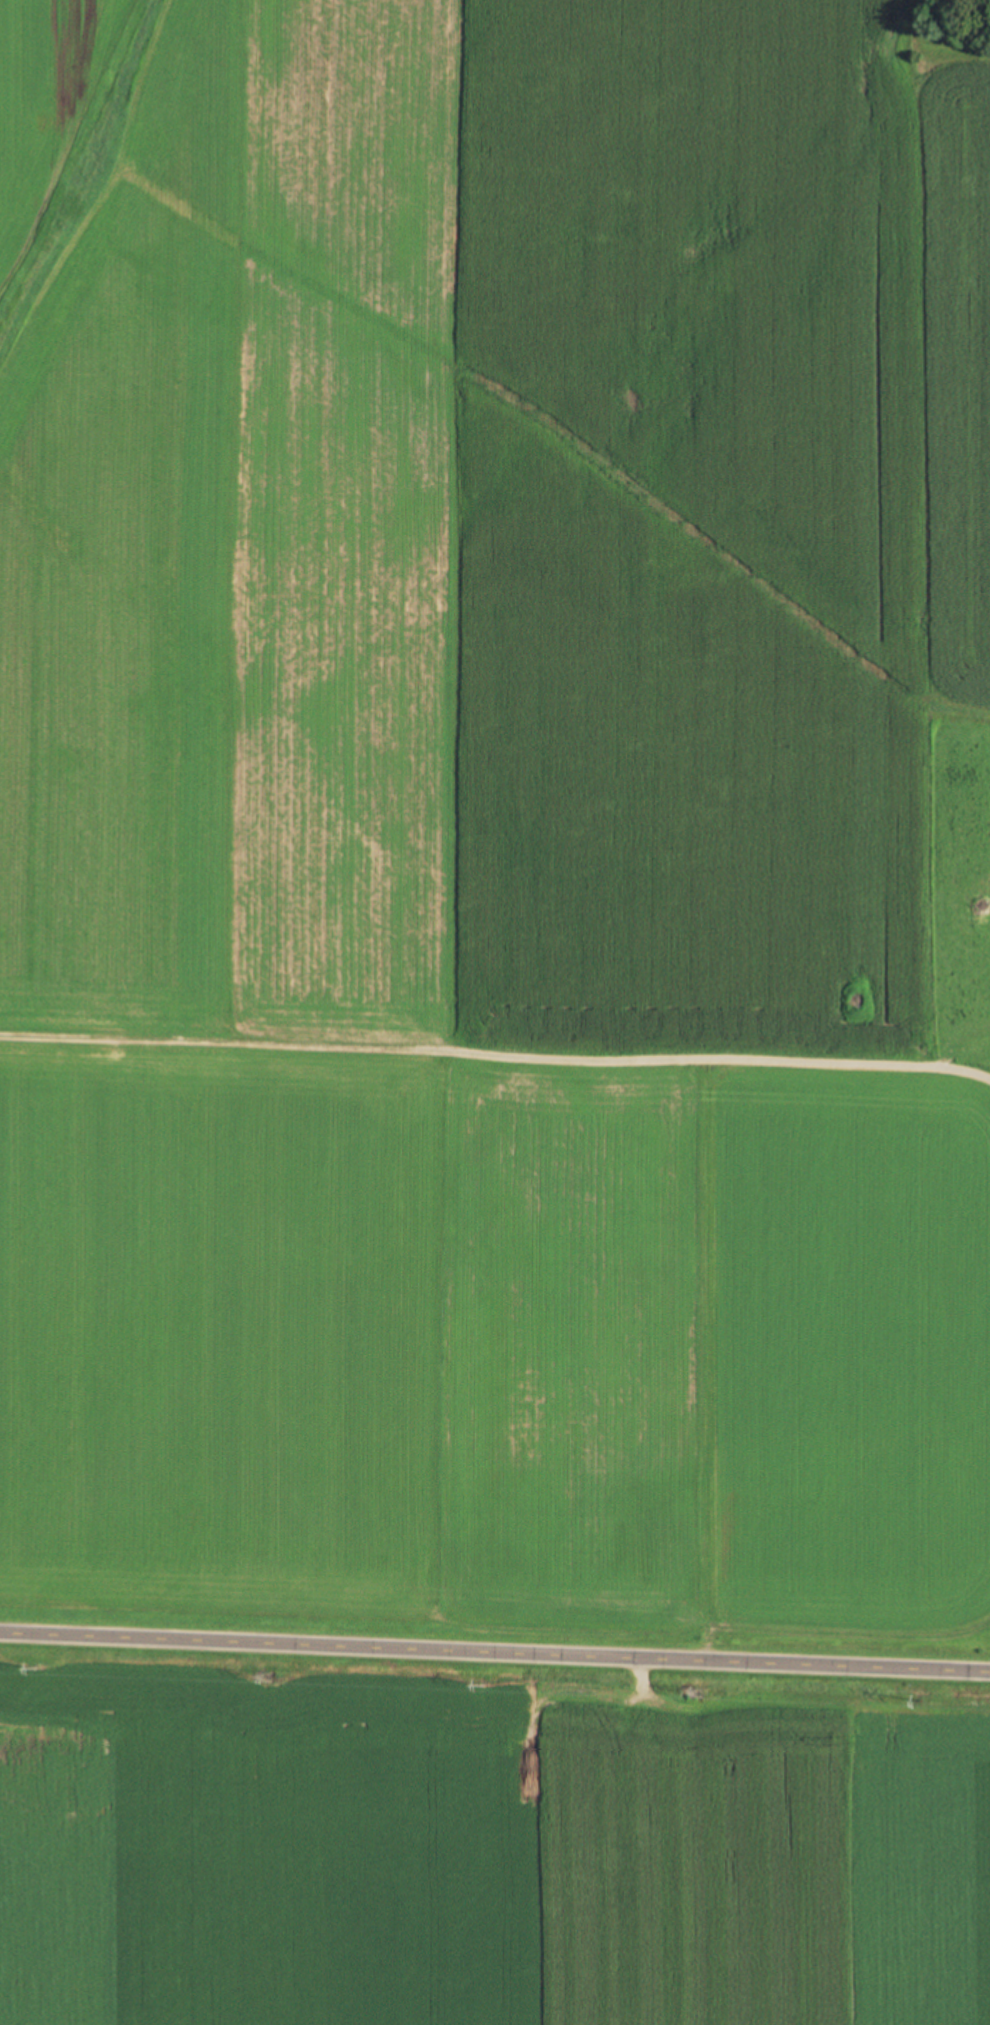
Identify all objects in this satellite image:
road: (495, 1645)
power tower: (265, 1678)
power tower: (696, 1694)

